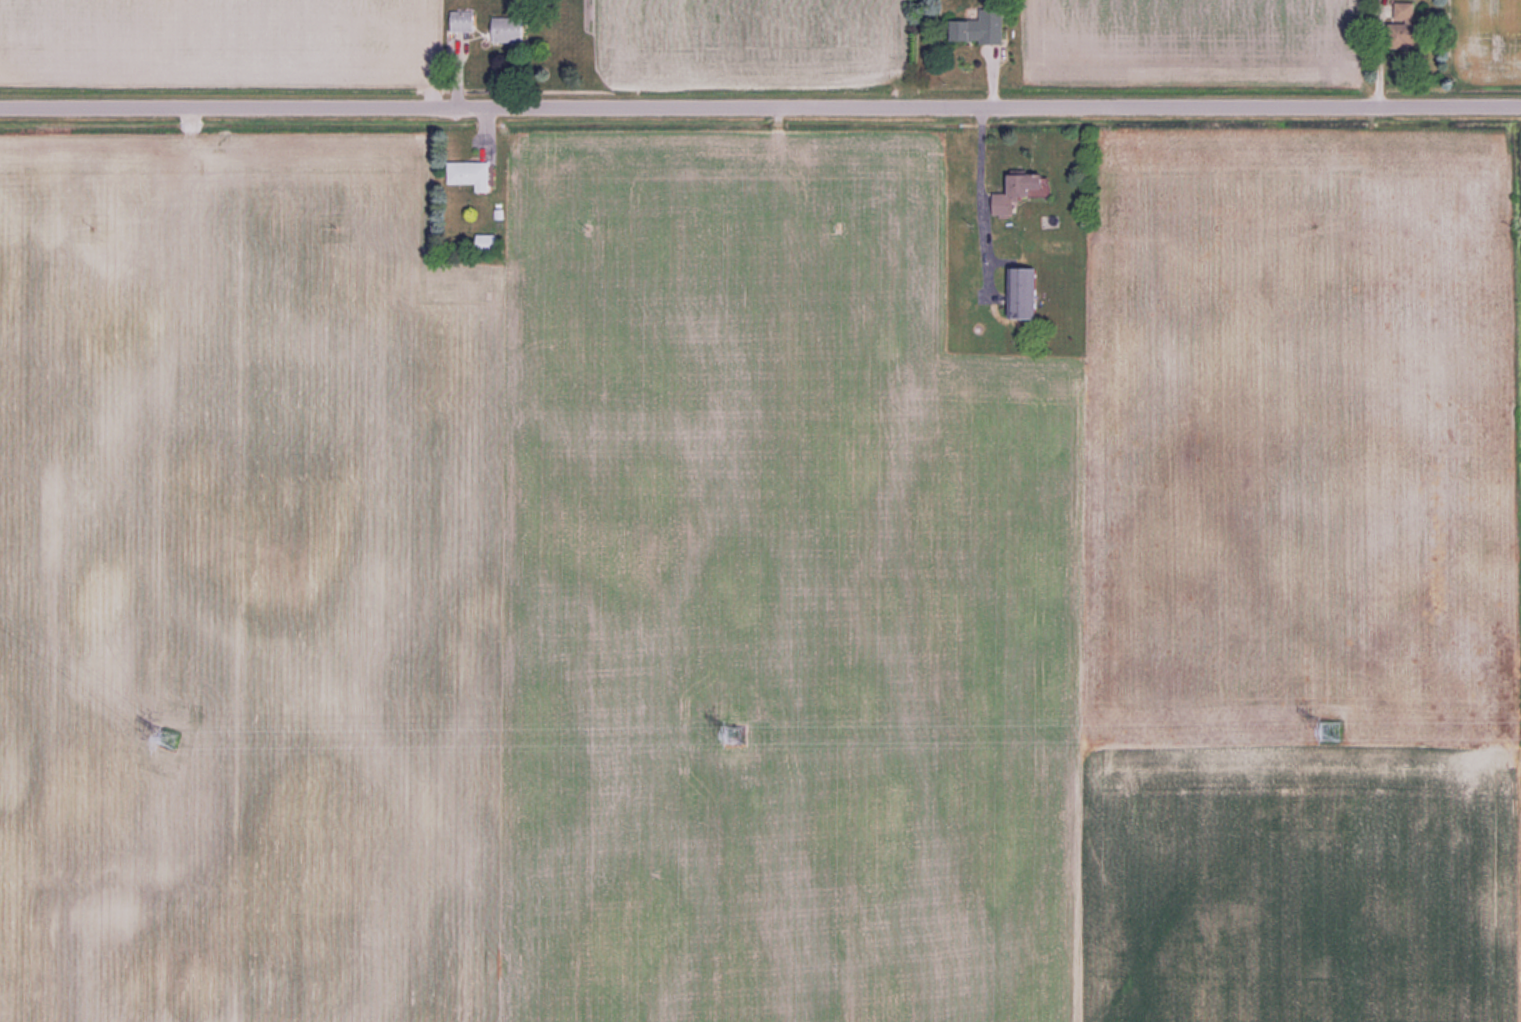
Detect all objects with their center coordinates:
building: (1406, 10)
building: (464, 21)
building: (983, 28)
building: (510, 30)
building: (1413, 34)
road: (760, 106)
building: (472, 174)
building: (1022, 193)
building: (486, 241)
building: (1026, 294)
power tower: (1338, 730)
power tower: (740, 734)
power tower: (174, 742)

